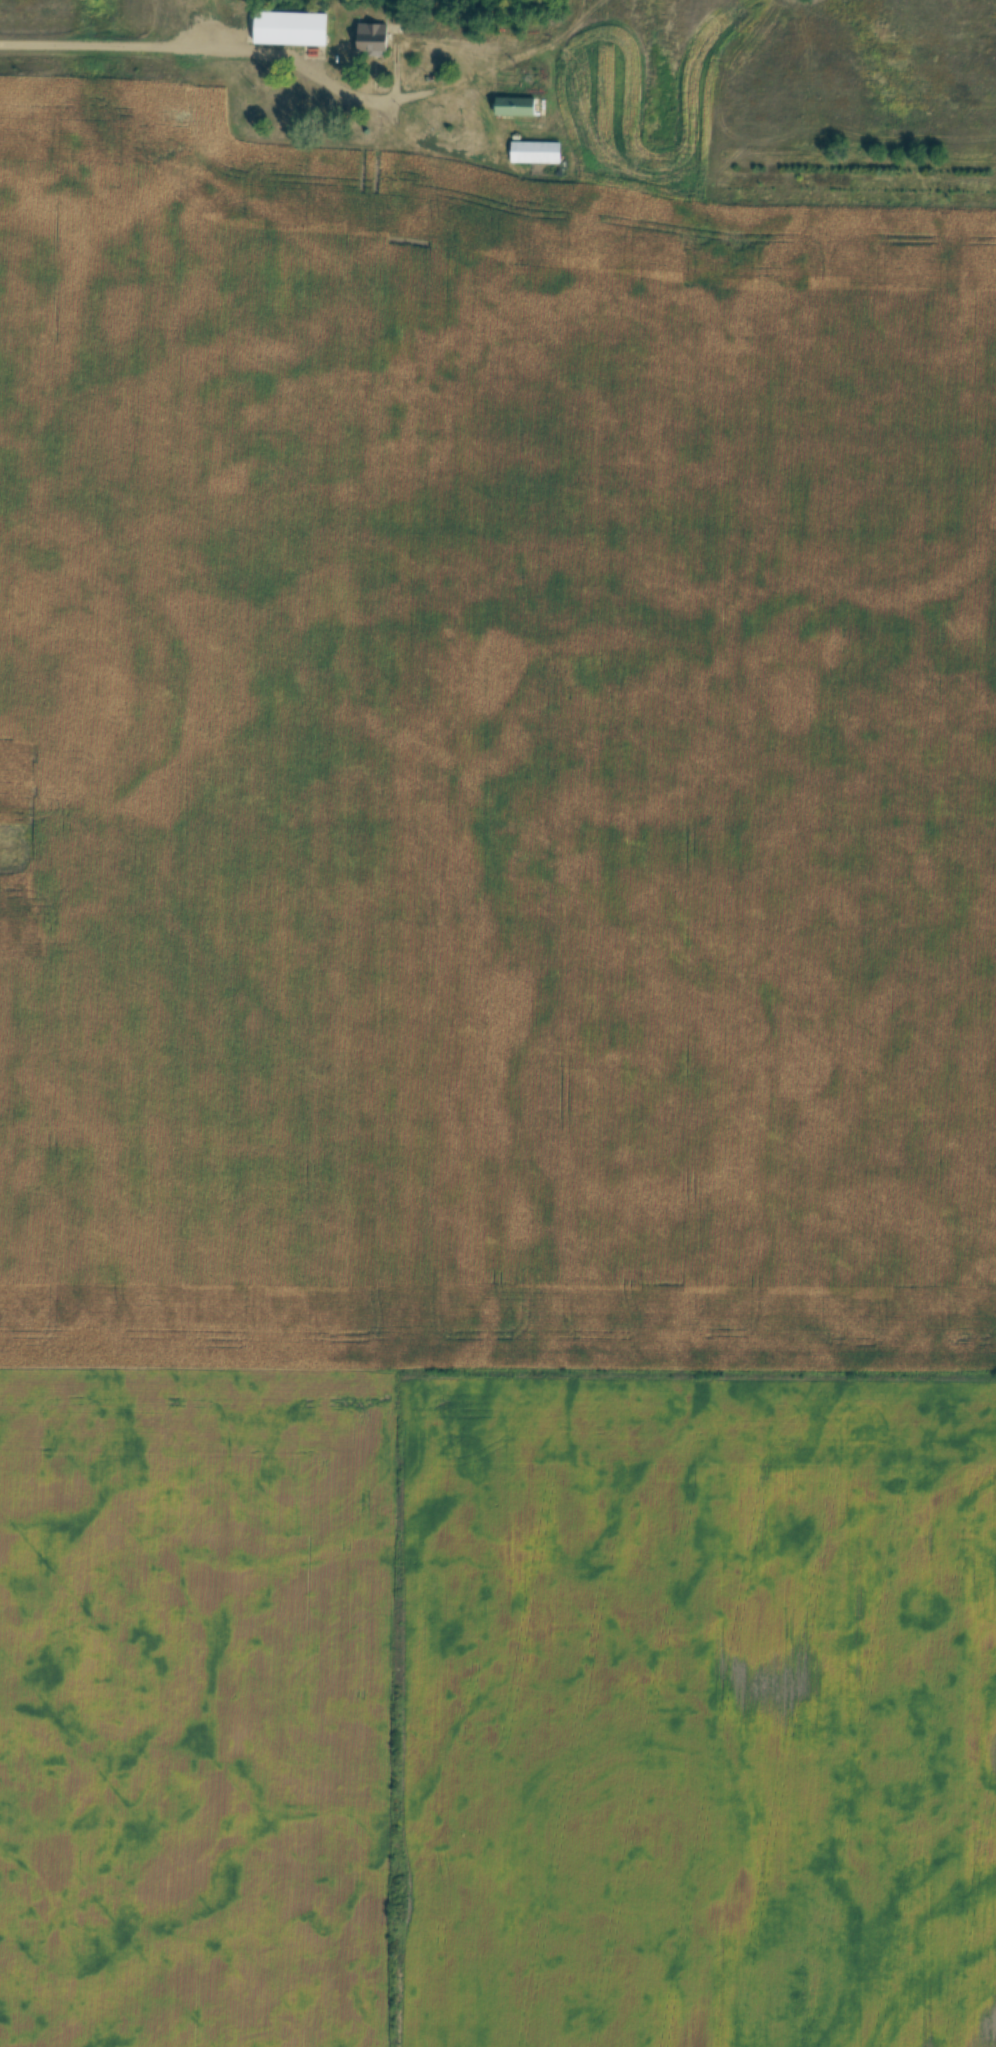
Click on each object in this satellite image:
building: (289, 29)
building: (370, 38)
road: (317, 48)
building: (514, 107)
building: (535, 153)
building: (601, 209)

